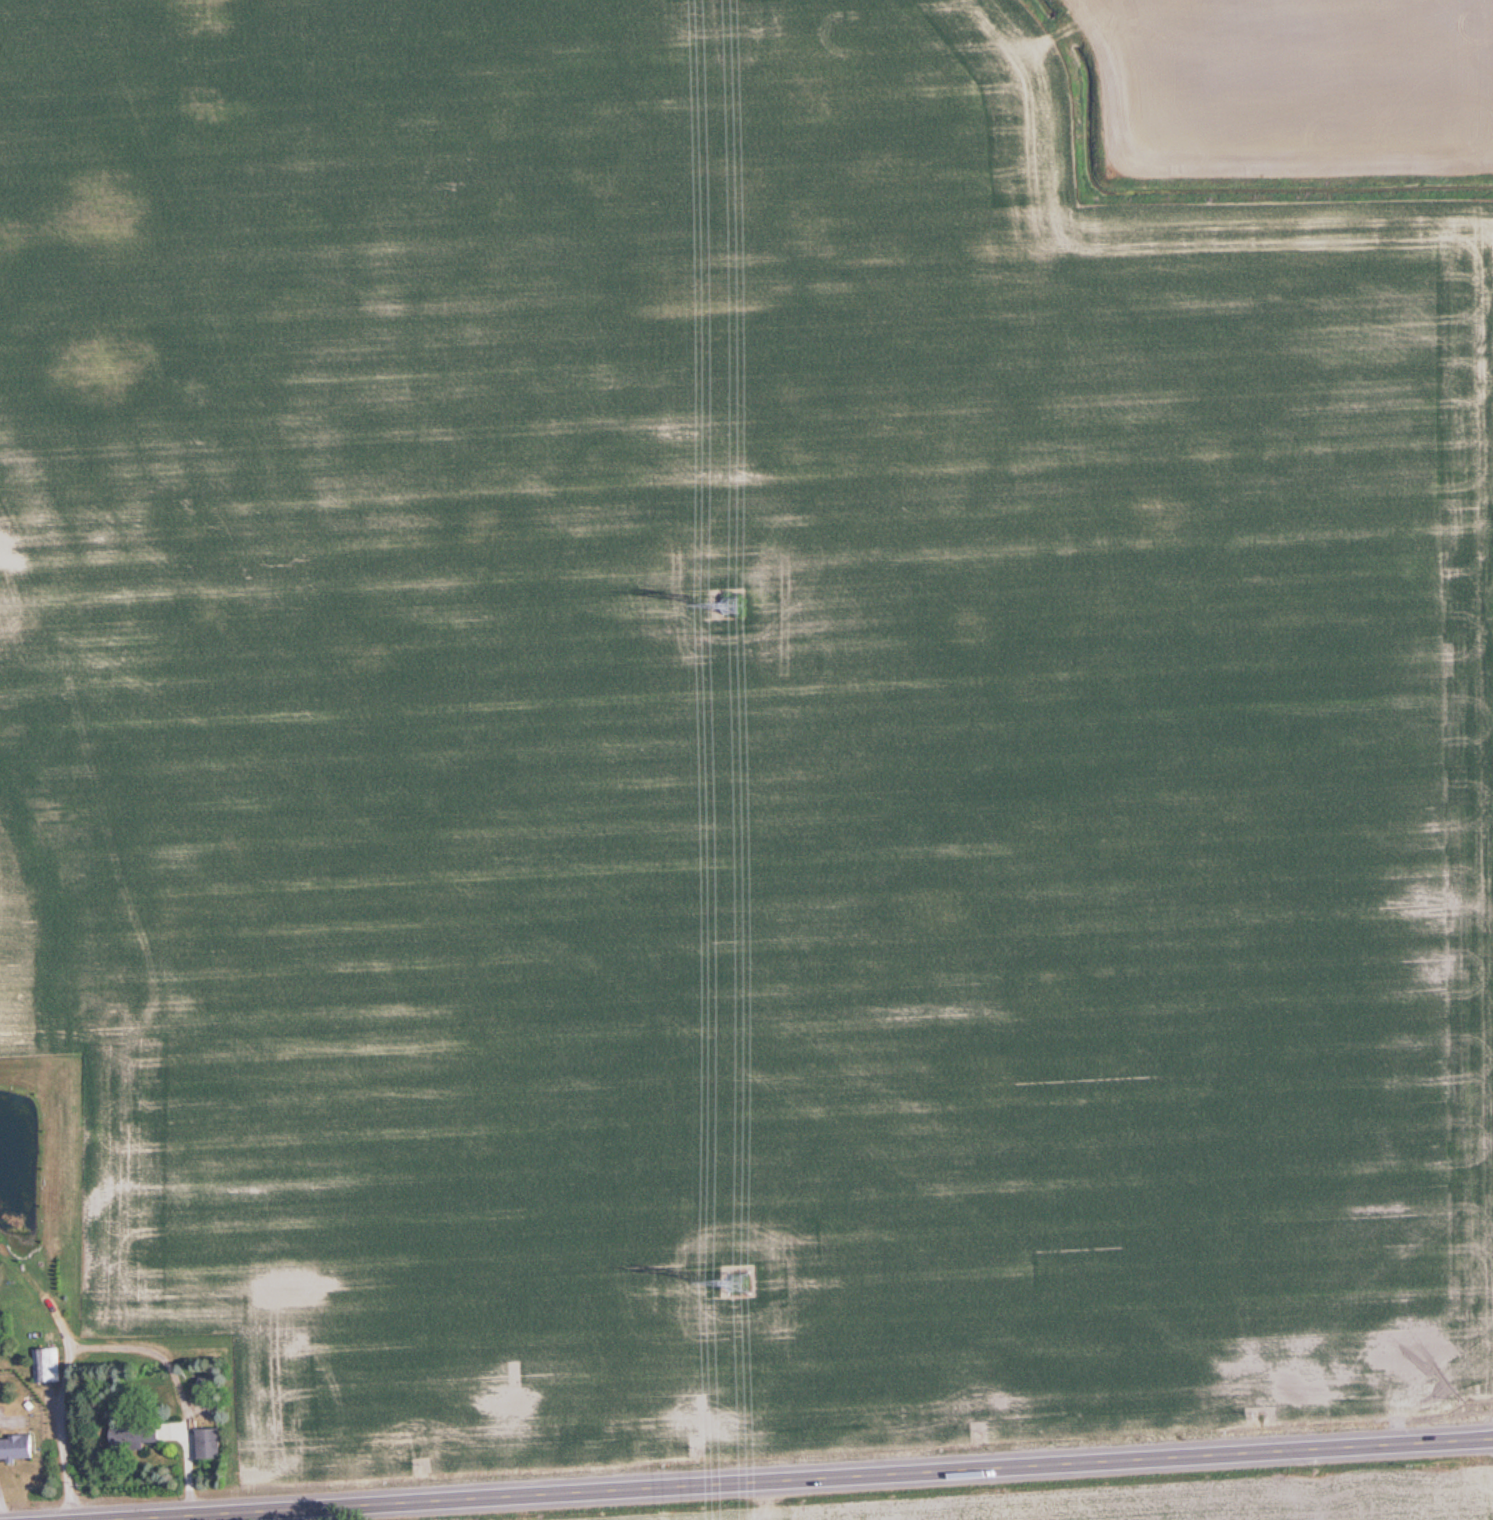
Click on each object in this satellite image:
power tower: (734, 605)
power tower: (740, 1283)
building: (47, 1364)
building: (135, 1436)
building: (210, 1443)
building: (18, 1446)
road: (808, 1480)
road: (142, 1519)

